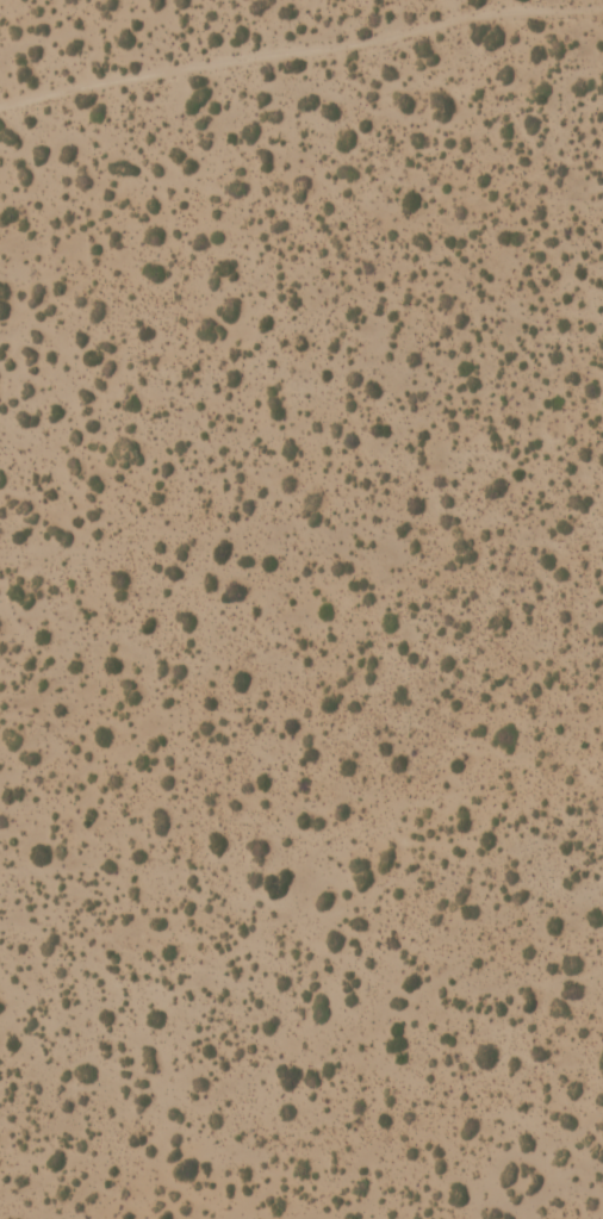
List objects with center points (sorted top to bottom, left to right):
road: (300, 46)

